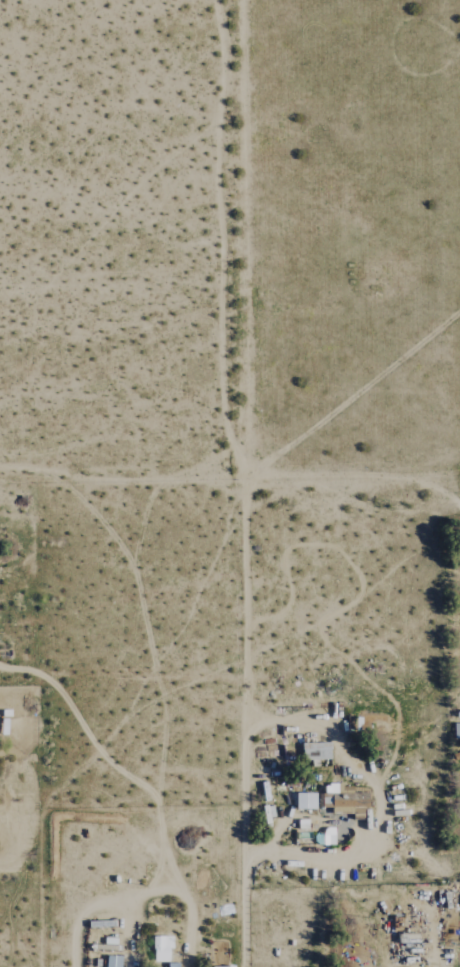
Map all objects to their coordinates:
road: (247, 360)
building: (457, 731)
building: (306, 801)
building: (346, 801)
road: (245, 844)
building: (162, 948)
building: (113, 962)

